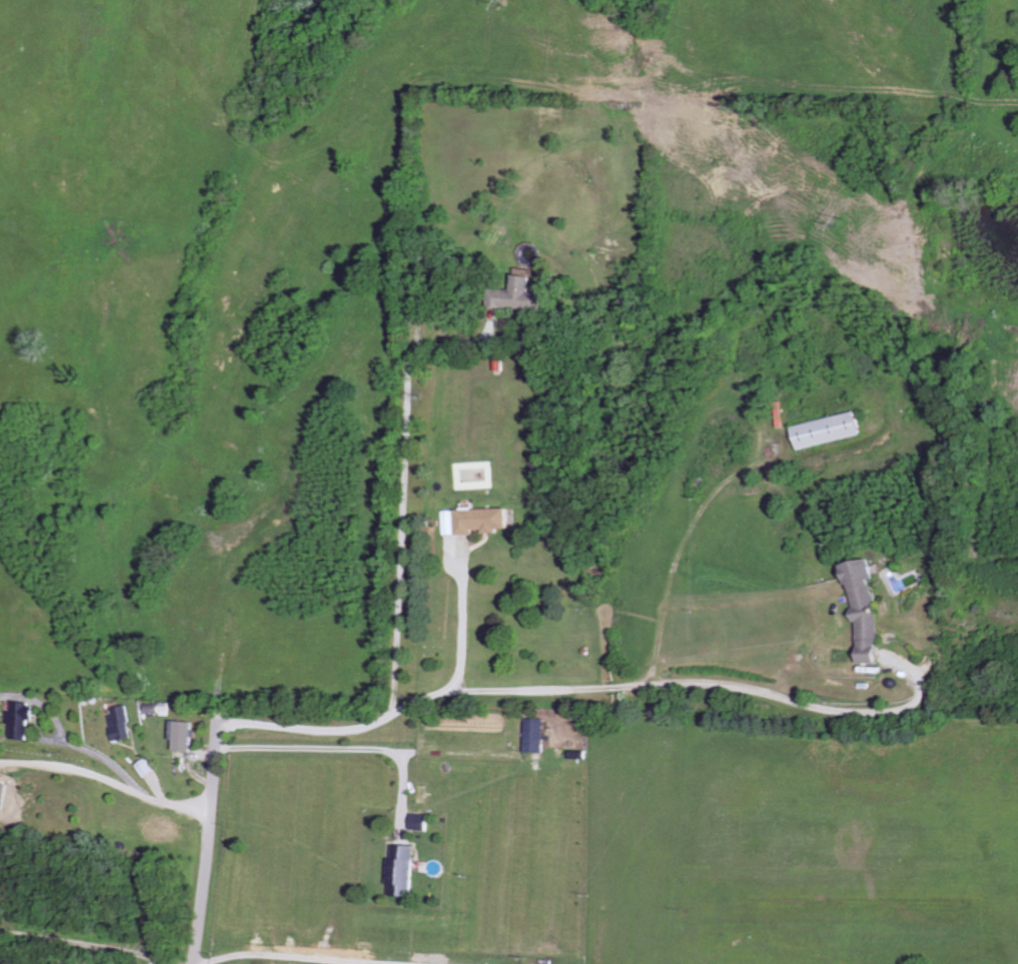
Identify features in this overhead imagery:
building: (524, 295)
building: (829, 430)
road: (399, 498)
building: (485, 520)
building: (452, 522)
building: (867, 612)
road: (601, 687)
building: (154, 709)
building: (21, 720)
building: (120, 723)
building: (184, 736)
building: (535, 736)
road: (66, 737)
road: (336, 749)
road: (68, 765)
building: (145, 768)
road: (167, 801)
building: (418, 822)
road: (200, 841)
building: (401, 870)
road: (279, 956)

